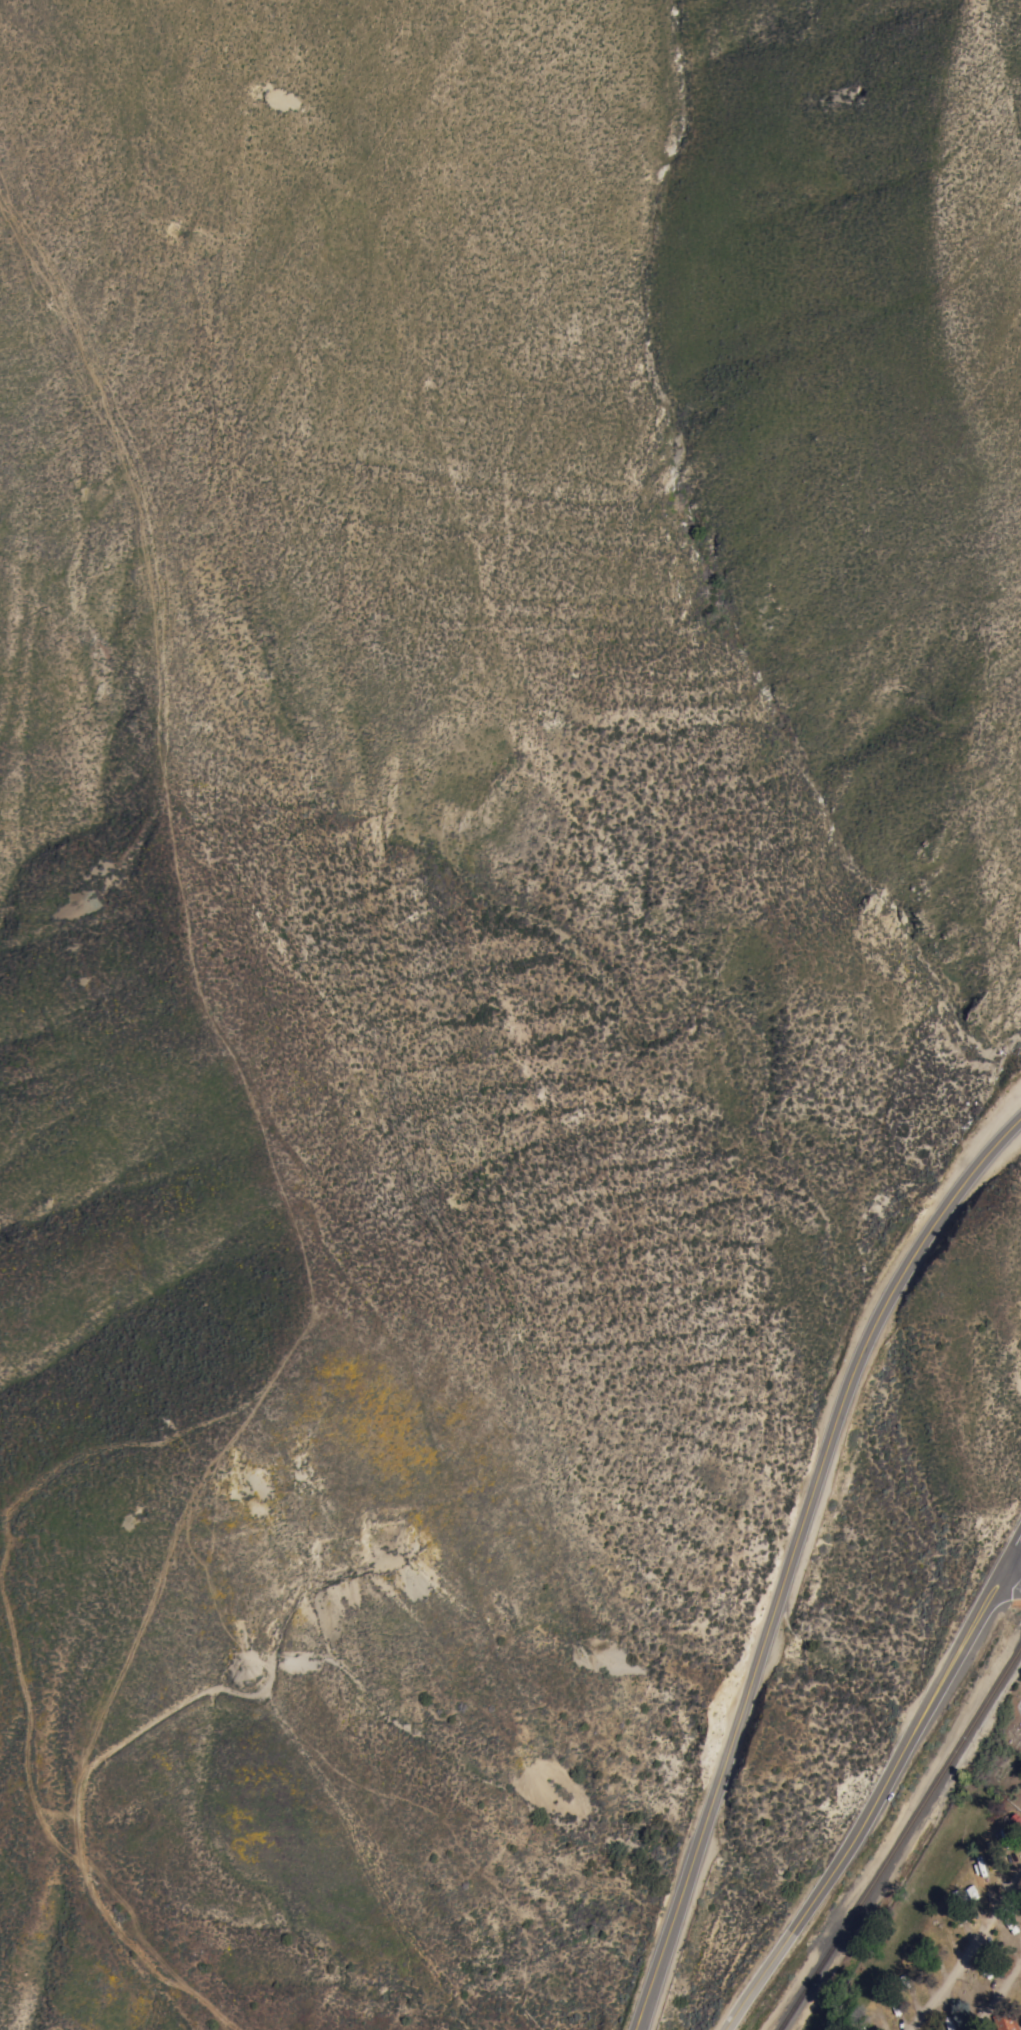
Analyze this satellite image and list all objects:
road: (789, 1556)
road: (1019, 1556)
road: (1014, 1577)
road: (881, 1792)
railway: (901, 1842)
road: (966, 1955)
road: (995, 1994)

